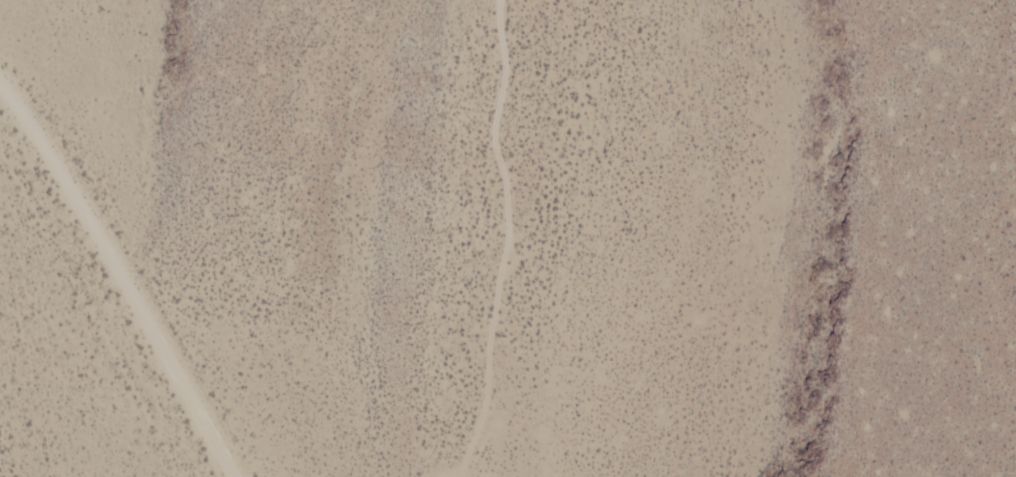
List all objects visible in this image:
road: (127, 271)

